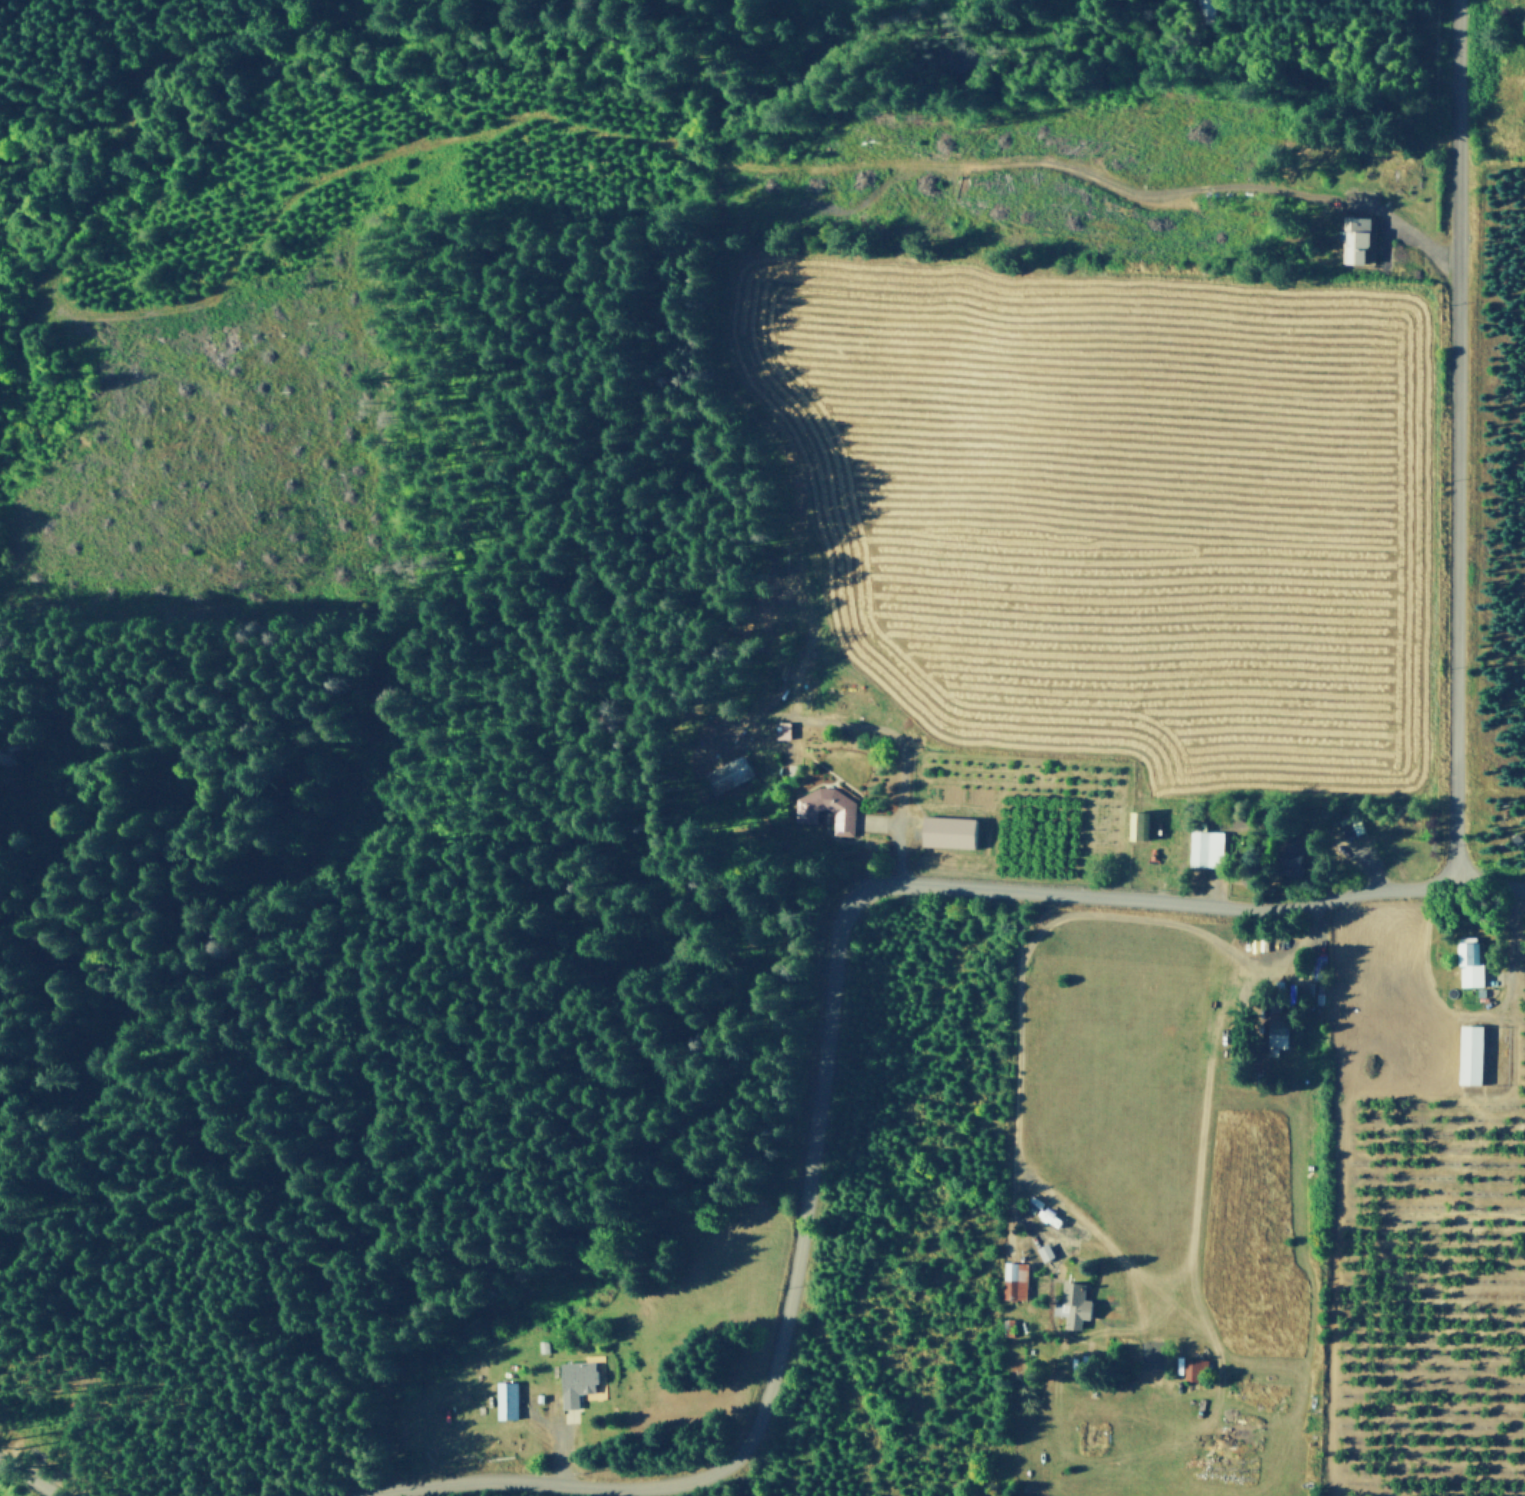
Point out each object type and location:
building: (1202, 10)
building: (1336, 205)
road: (1404, 225)
building: (1341, 232)
building: (1357, 236)
road: (1383, 236)
road: (181, 303)
road: (1454, 441)
crop: (1103, 505)
building: (773, 735)
building: (715, 778)
building: (818, 811)
building: (1349, 823)
building: (1139, 825)
building: (947, 831)
building: (1202, 851)
building: (1290, 855)
road: (1040, 922)
building: (1467, 963)
building: (1305, 989)
building: (1486, 997)
building: (1274, 1032)
road: (827, 1034)
building: (1466, 1054)
crop: (1105, 1077)
building: (1012, 1276)
building: (1071, 1302)
building: (1007, 1324)
building: (1193, 1366)
building: (575, 1380)
building: (505, 1398)
road: (27, 1481)

